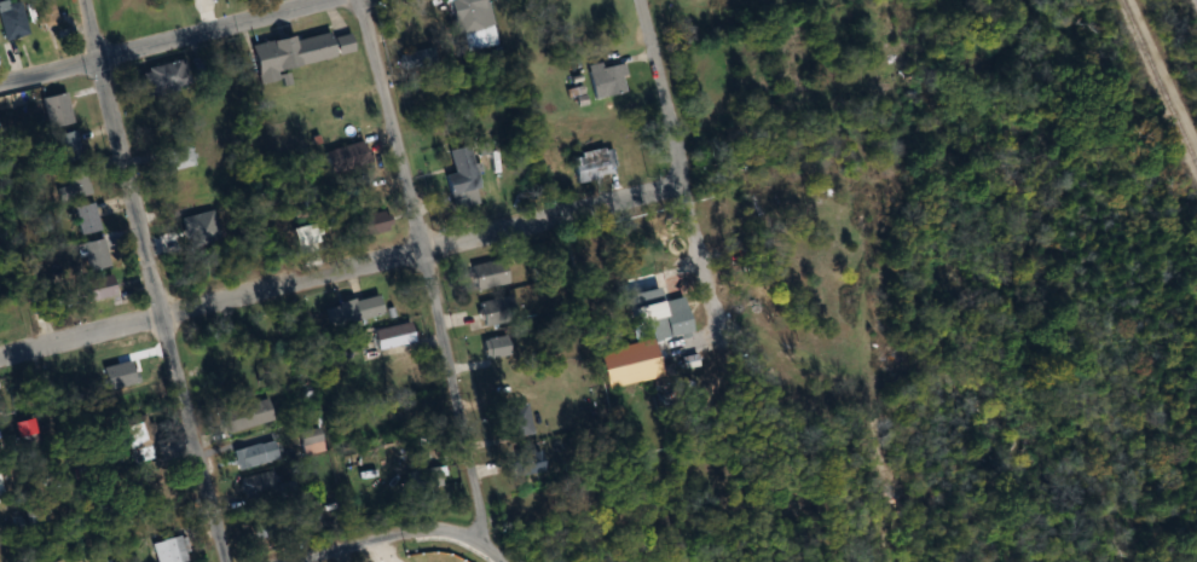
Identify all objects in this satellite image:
building: (42, 11)
building: (473, 23)
building: (404, 24)
building: (11, 25)
road: (161, 42)
building: (296, 52)
building: (411, 58)
building: (161, 79)
building: (605, 80)
railway: (1158, 83)
building: (53, 109)
building: (65, 143)
building: (175, 152)
building: (343, 156)
road: (680, 163)
building: (590, 164)
building: (458, 179)
building: (73, 187)
building: (191, 190)
building: (85, 219)
building: (365, 225)
building: (300, 237)
building: (88, 255)
road: (342, 270)
building: (485, 274)
road: (428, 282)
road: (154, 283)
building: (94, 289)
building: (348, 311)
building: (492, 311)
building: (638, 313)
building: (389, 336)
building: (492, 348)
building: (640, 353)
building: (243, 416)
building: (516, 421)
building: (310, 441)
building: (21, 444)
building: (253, 454)
building: (522, 463)
building: (424, 477)
building: (266, 485)
road: (389, 537)
building: (168, 550)
road: (370, 551)

